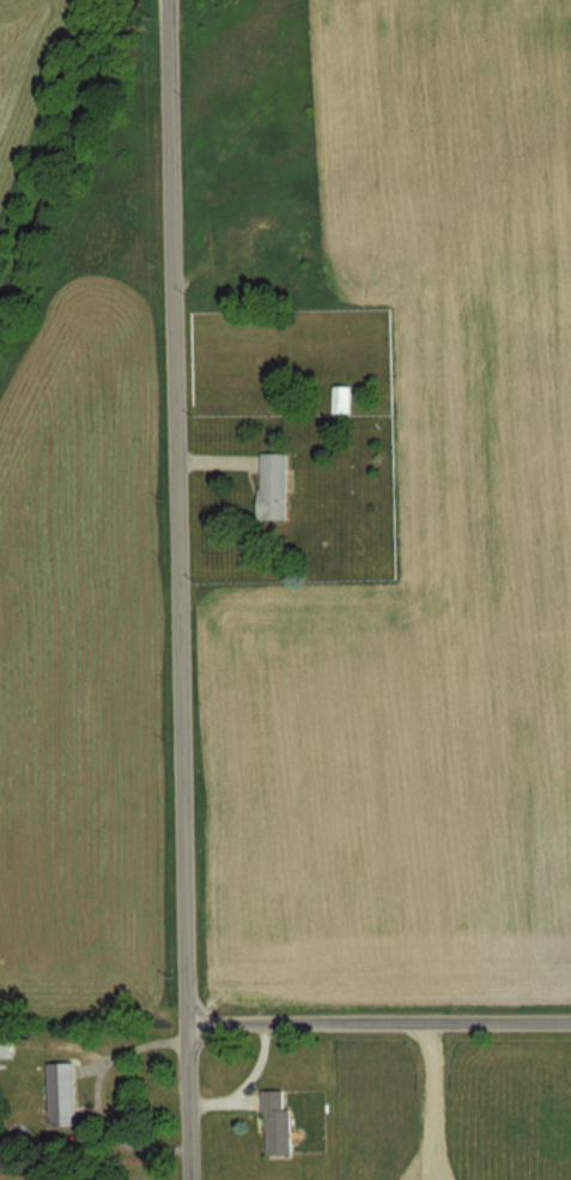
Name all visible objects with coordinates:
building: (341, 398)
building: (273, 485)
road: (182, 589)
road: (381, 1021)
building: (5, 1045)
road: (249, 1081)
building: (62, 1093)
road: (97, 1095)
road: (423, 1100)
building: (277, 1124)

